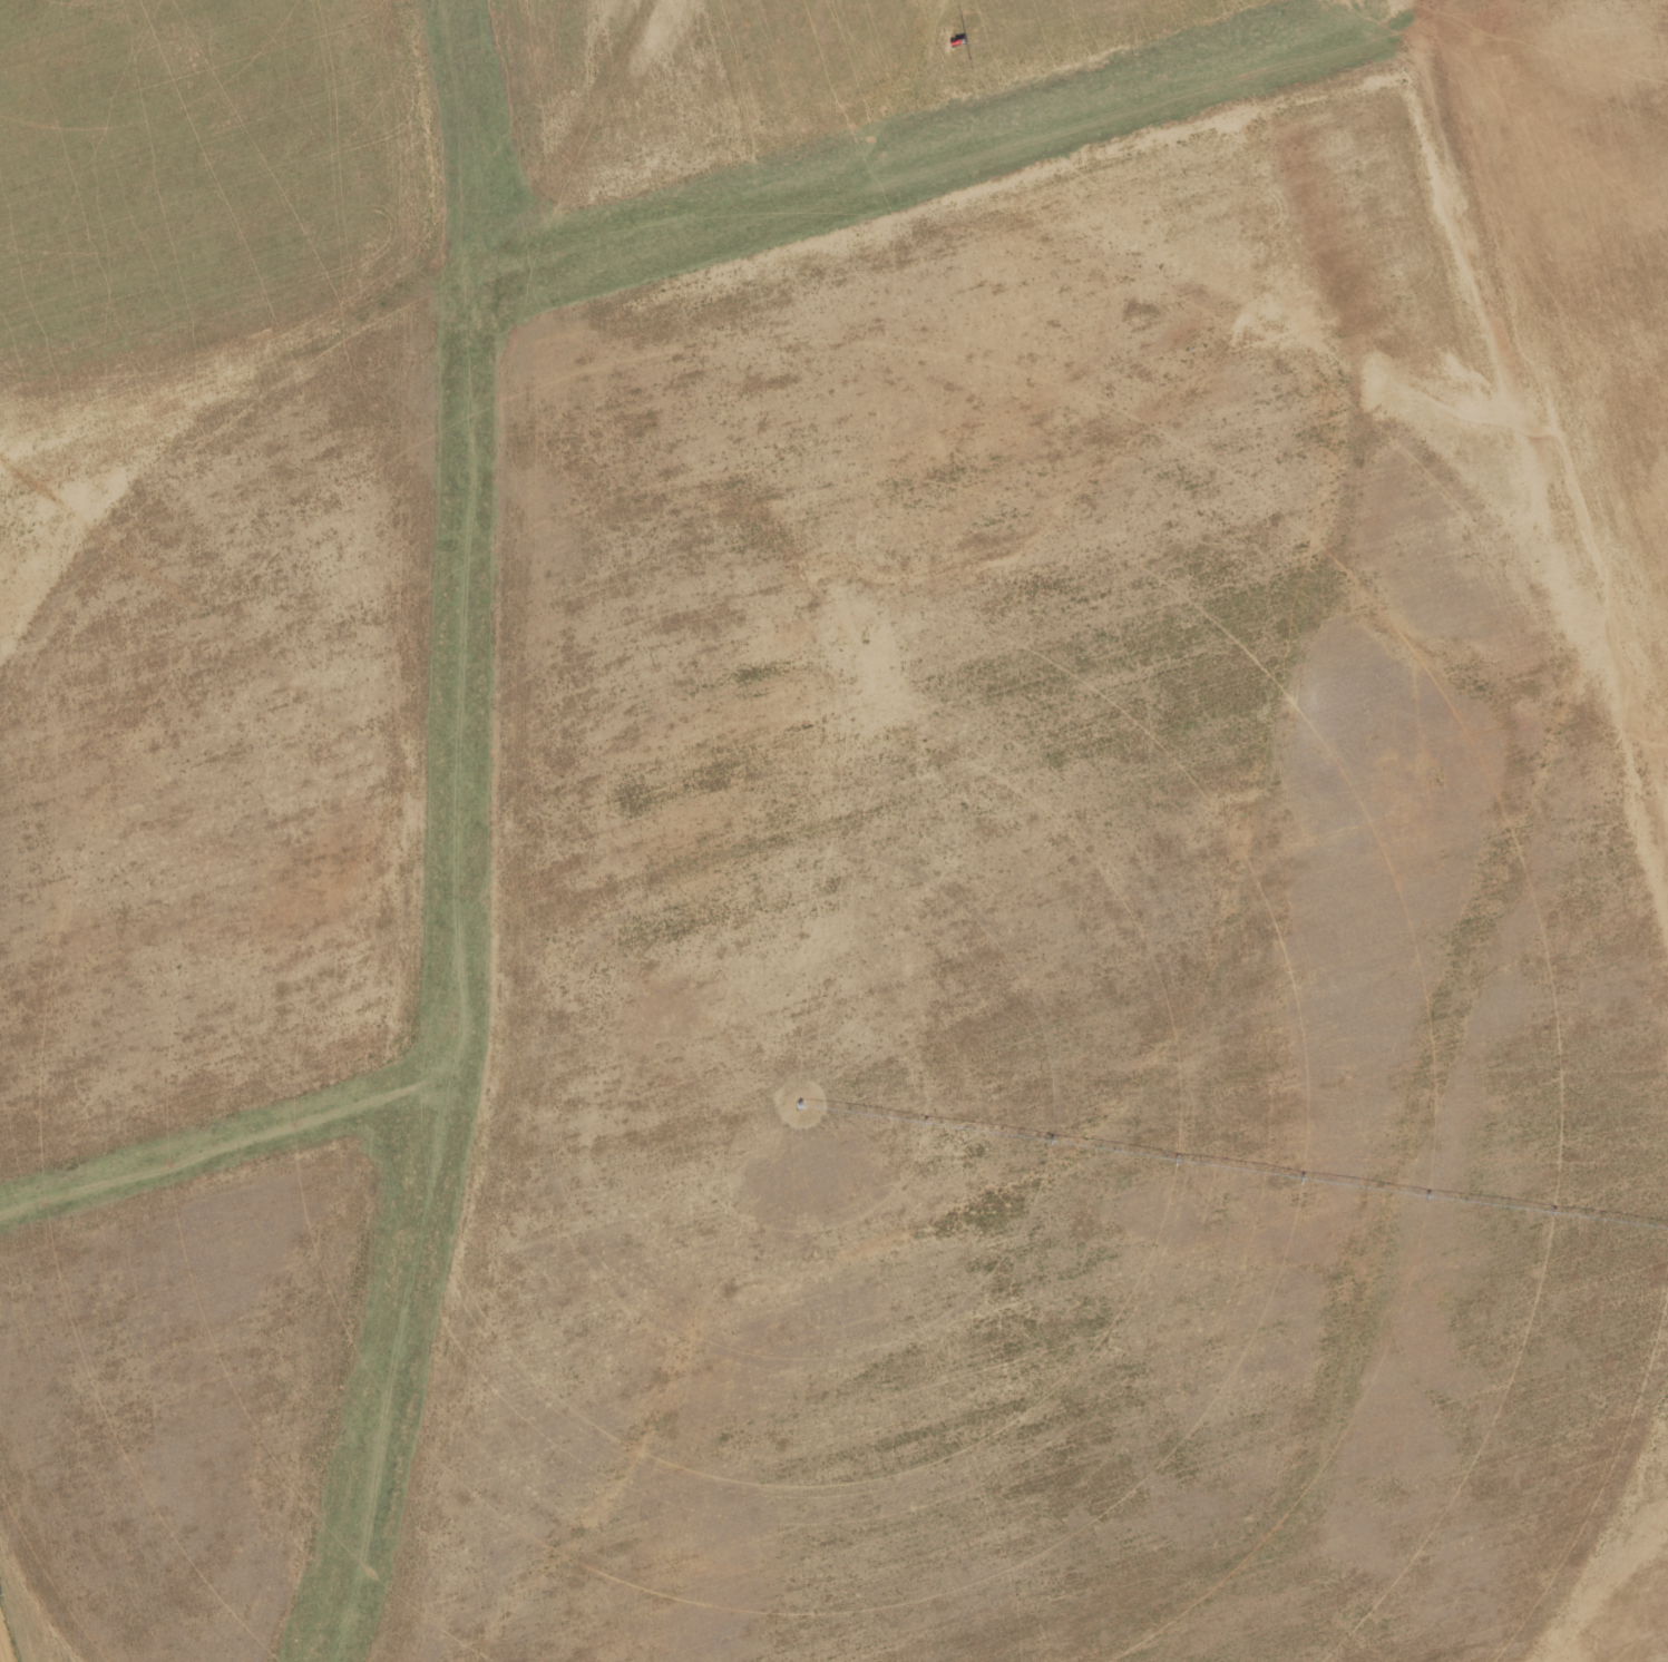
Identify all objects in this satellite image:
road: (3, 1648)

